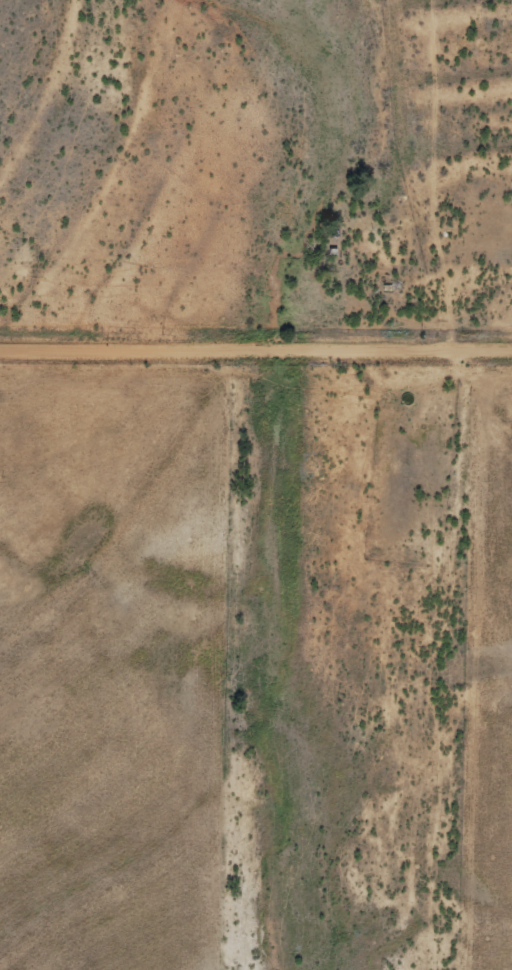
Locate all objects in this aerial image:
road: (255, 348)

